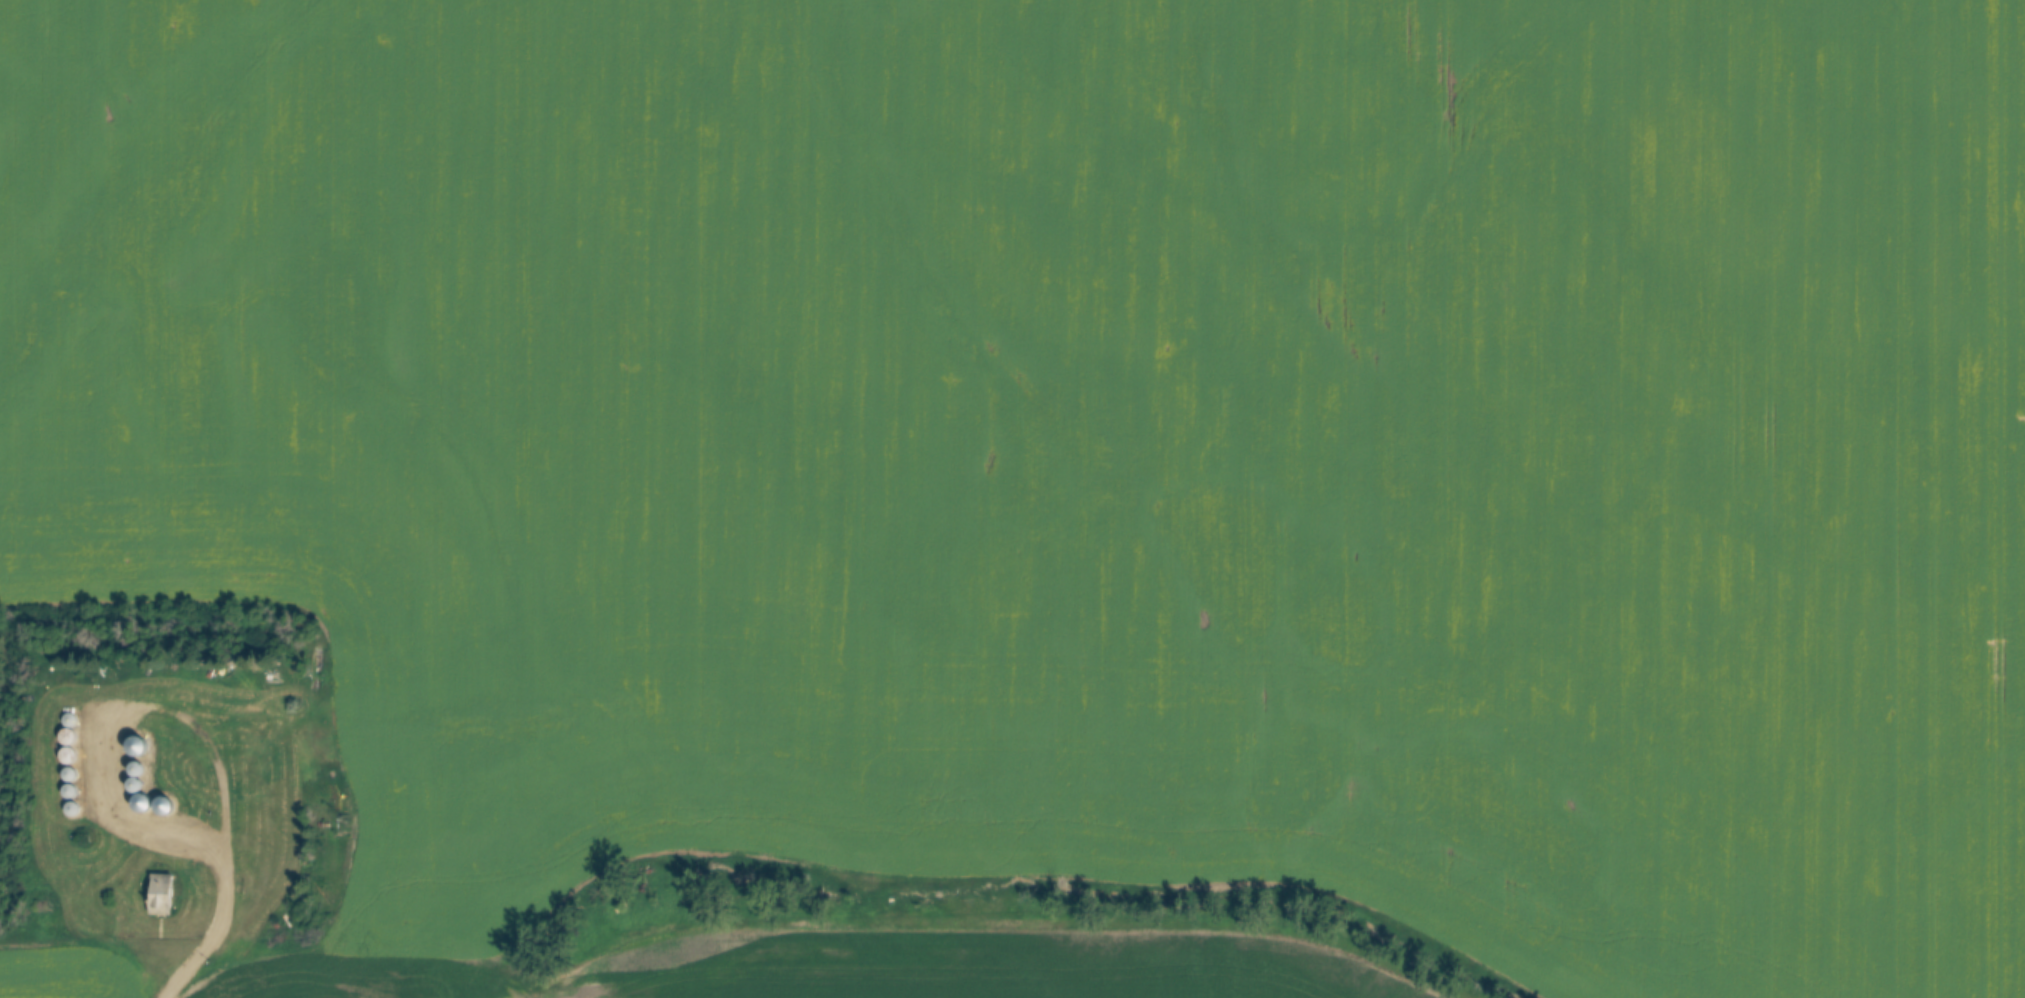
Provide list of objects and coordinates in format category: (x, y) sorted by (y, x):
building: (142, 746)
building: (169, 806)
road: (226, 892)
building: (167, 895)

